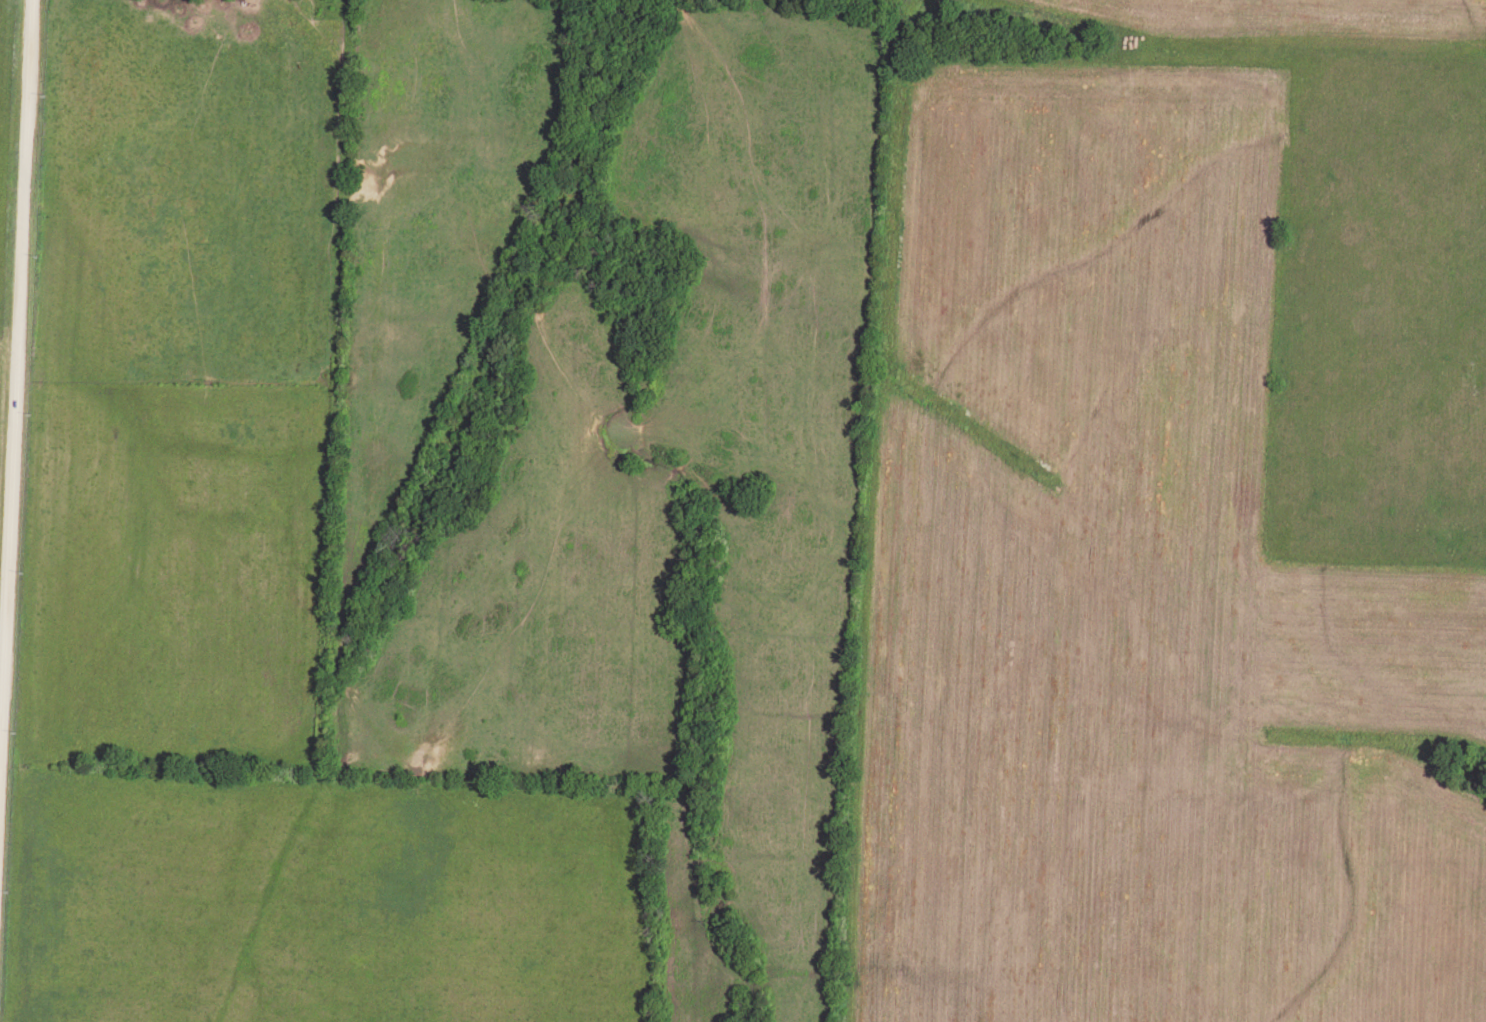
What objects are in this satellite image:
road: (18, 400)

